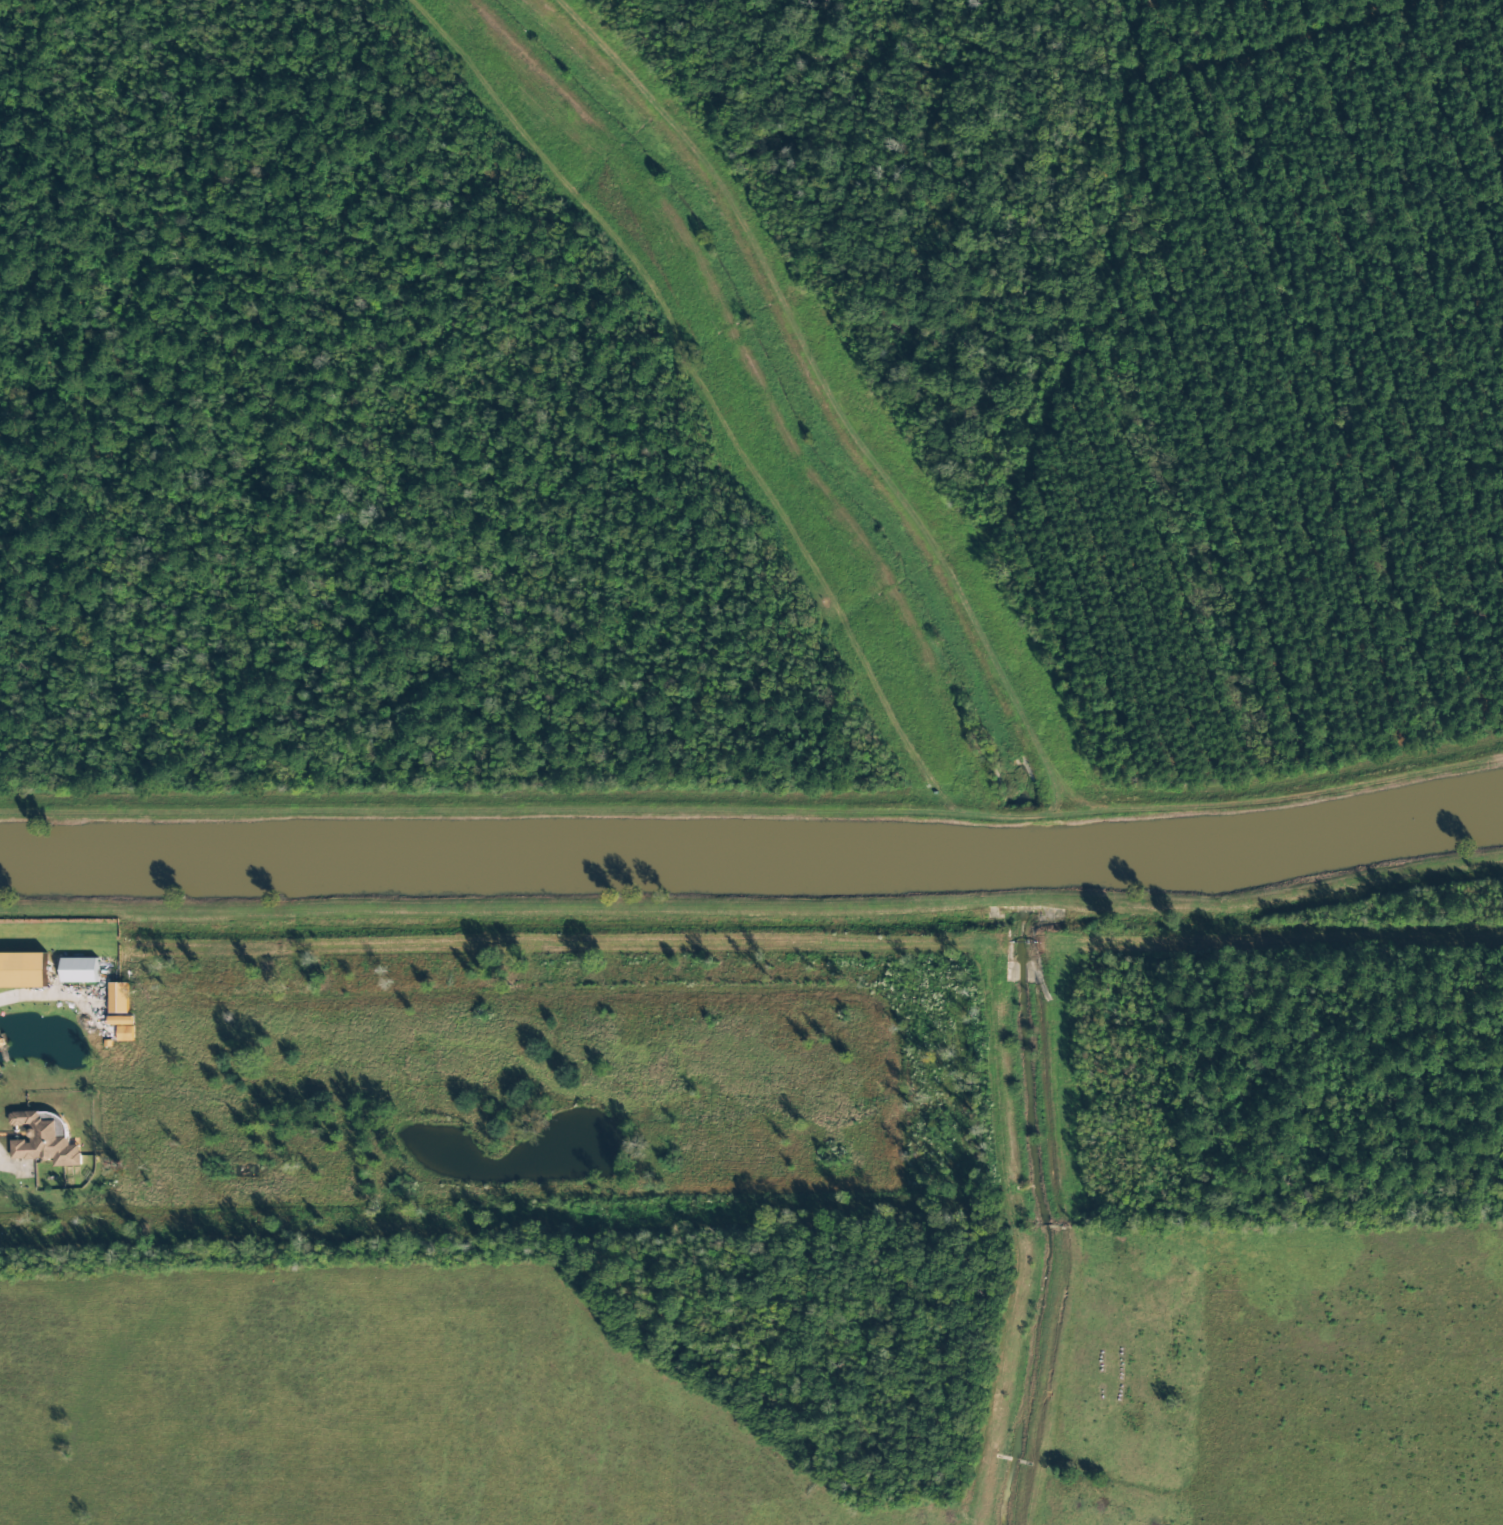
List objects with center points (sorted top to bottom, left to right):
building: (23, 970)
building: (80, 970)
road: (49, 996)
building: (120, 1011)
building: (45, 1139)

